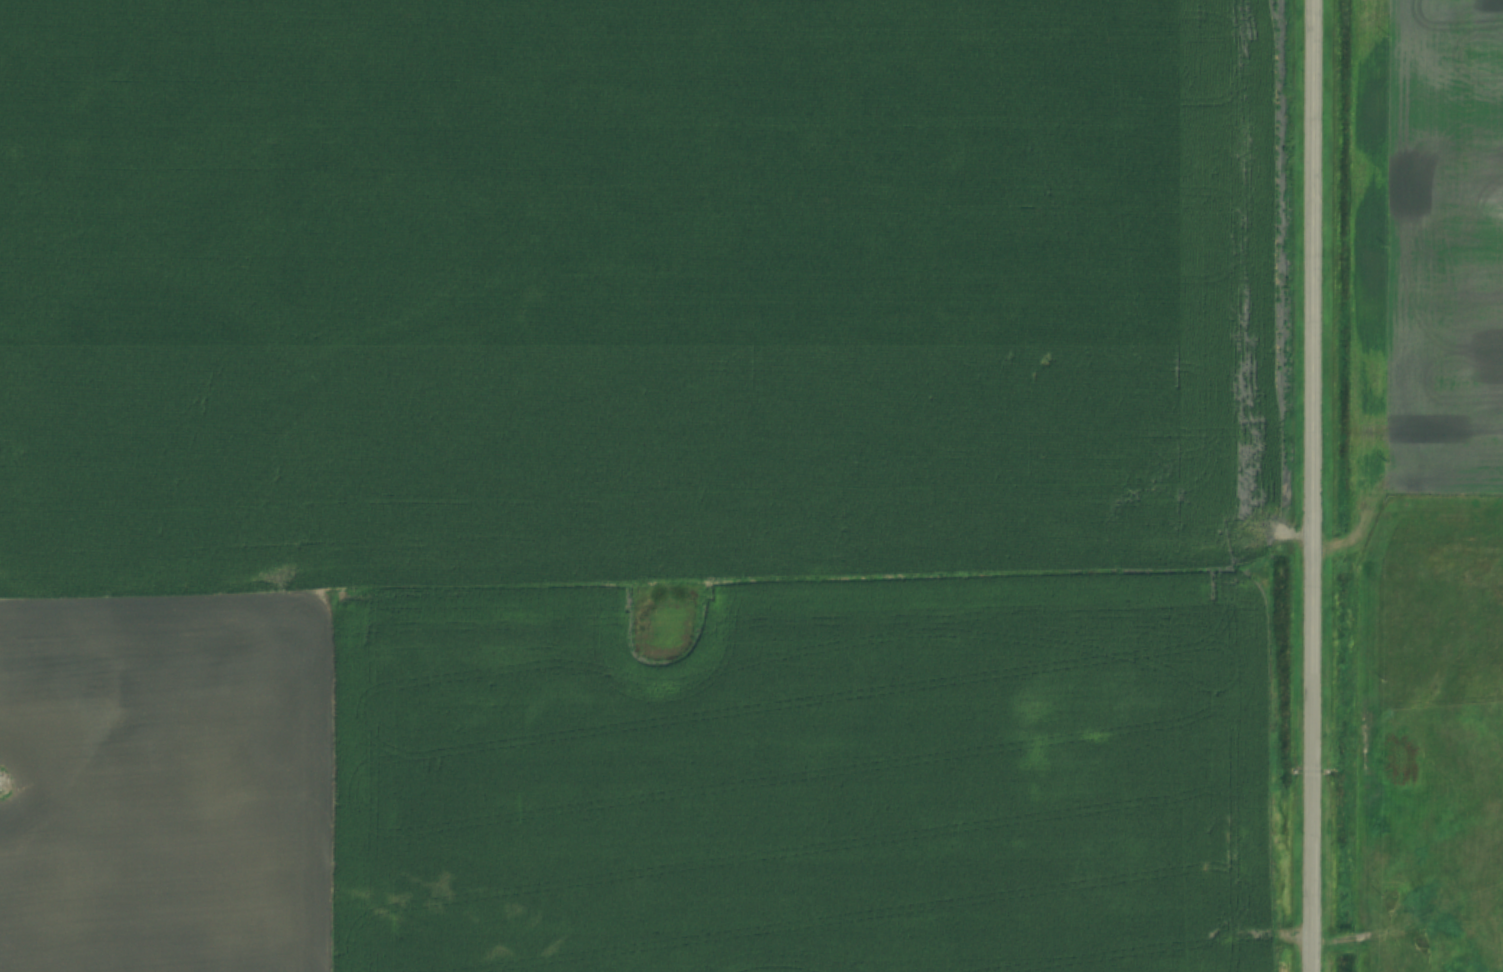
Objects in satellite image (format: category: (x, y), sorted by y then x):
building: (1440, 102)
road: (1311, 486)
building: (1071, 864)

